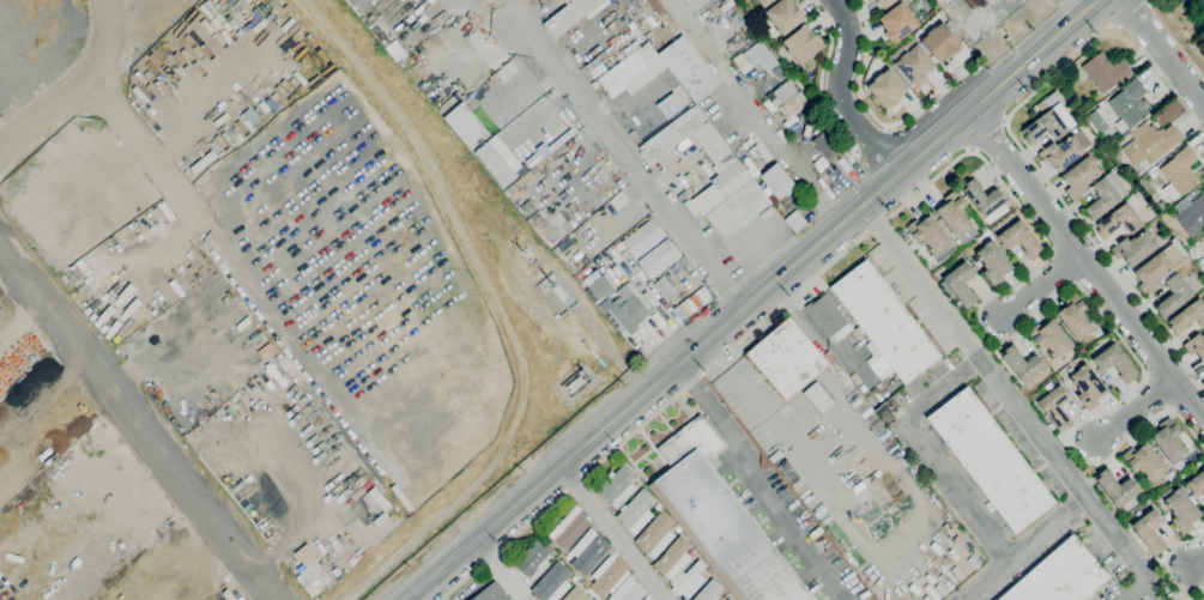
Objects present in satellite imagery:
building: (623, 2)
building: (764, 2)
building: (882, 2)
road: (1129, 12)
road: (513, 13)
building: (571, 16)
building: (785, 16)
road: (488, 20)
building: (896, 22)
building: (639, 36)
road: (1174, 41)
building: (939, 42)
building: (803, 44)
road: (1163, 53)
road: (1033, 55)
building: (755, 57)
building: (913, 65)
road: (65, 67)
building: (688, 67)
building: (633, 72)
building: (1105, 72)
road: (822, 75)
building: (885, 89)
road: (841, 92)
building: (787, 99)
building: (449, 103)
building: (1129, 105)
building: (1039, 108)
road: (877, 117)
building: (1097, 120)
building: (465, 123)
building: (793, 127)
building: (1045, 127)
building: (668, 137)
road: (869, 137)
road: (1015, 139)
building: (825, 141)
road: (933, 141)
building: (1150, 143)
building: (713, 146)
building: (1114, 150)
building: (1061, 152)
road: (791, 163)
building: (495, 164)
road: (629, 166)
road: (994, 172)
building: (1180, 172)
building: (1152, 174)
building: (1079, 177)
building: (778, 181)
building: (1136, 194)
building: (982, 198)
building: (728, 200)
building: (1100, 200)
building: (527, 208)
building: (956, 217)
building: (1190, 217)
building: (532, 219)
building: (1168, 219)
building: (1119, 222)
building: (928, 234)
building: (641, 238)
building: (1020, 240)
building: (1203, 240)
building: (1135, 248)
building: (1193, 250)
building: (657, 259)
building: (1202, 261)
building: (993, 262)
road: (1087, 262)
building: (1152, 273)
road: (1040, 284)
building: (958, 285)
building: (661, 289)
building: (558, 292)
building: (706, 293)
building: (1173, 295)
building: (616, 303)
road: (789, 310)
building: (828, 317)
building: (1075, 317)
building: (1188, 317)
building: (883, 320)
building: (1100, 331)
building: (857, 332)
building: (1051, 338)
building: (1196, 346)
road: (720, 351)
building: (786, 358)
building: (1115, 363)
building: (1021, 364)
building: (881, 366)
building: (575, 383)
road: (651, 386)
building: (1087, 387)
road: (1135, 406)
building: (1055, 408)
road: (1021, 413)
road: (134, 426)
road: (783, 435)
building: (1169, 441)
road: (924, 449)
building: (991, 460)
building: (1144, 461)
building: (639, 484)
road: (756, 484)
building: (1196, 484)
building: (617, 486)
building: (1117, 489)
building: (658, 507)
building: (1181, 510)
building: (636, 511)
building: (1167, 516)
building: (719, 520)
building: (569, 527)
building: (677, 529)
building: (1149, 531)
road: (610, 532)
building: (655, 535)
road: (1114, 539)
building: (587, 552)
building: (672, 558)
road: (1196, 559)
building: (532, 562)
road: (1168, 564)
road: (498, 569)
building: (710, 571)
building: (607, 576)
building: (1060, 576)
building: (574, 578)
building: (688, 580)
building: (552, 583)
building: (586, 583)
building: (628, 590)
building: (709, 590)
road: (1135, 590)
building: (491, 593)
building: (575, 594)
building: (1202, 598)
building: (646, 599)
building: (727, 599)
building: (730, 599)

